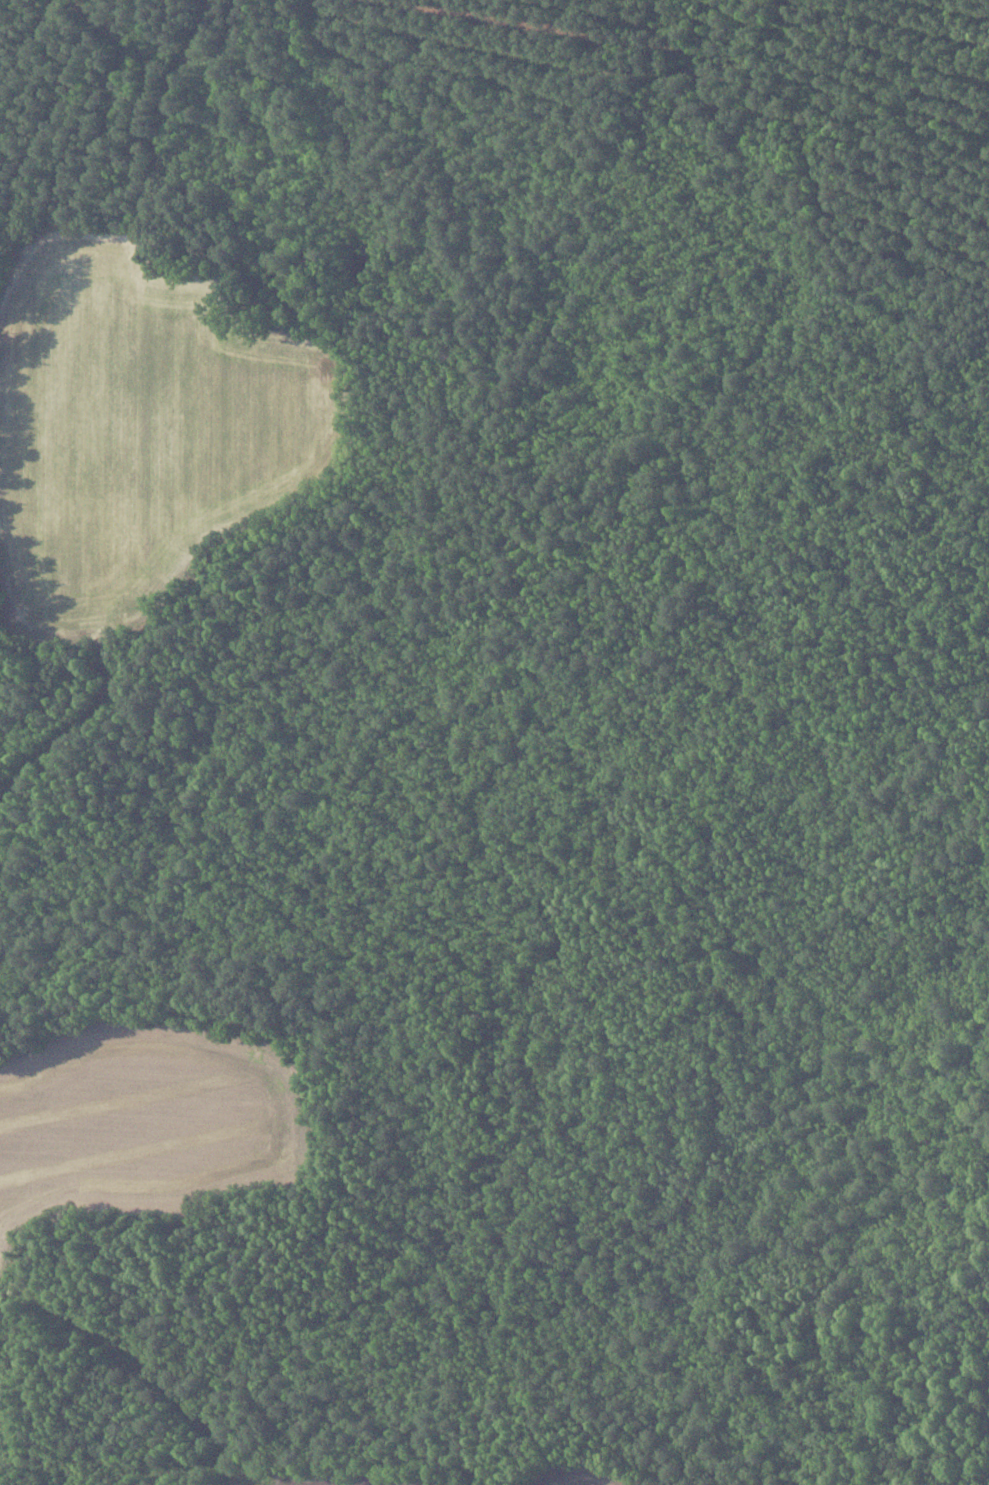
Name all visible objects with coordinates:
crop: (139, 425)
road: (75, 727)
crop: (147, 1118)
crop: (585, 1471)
crop: (344, 1475)

